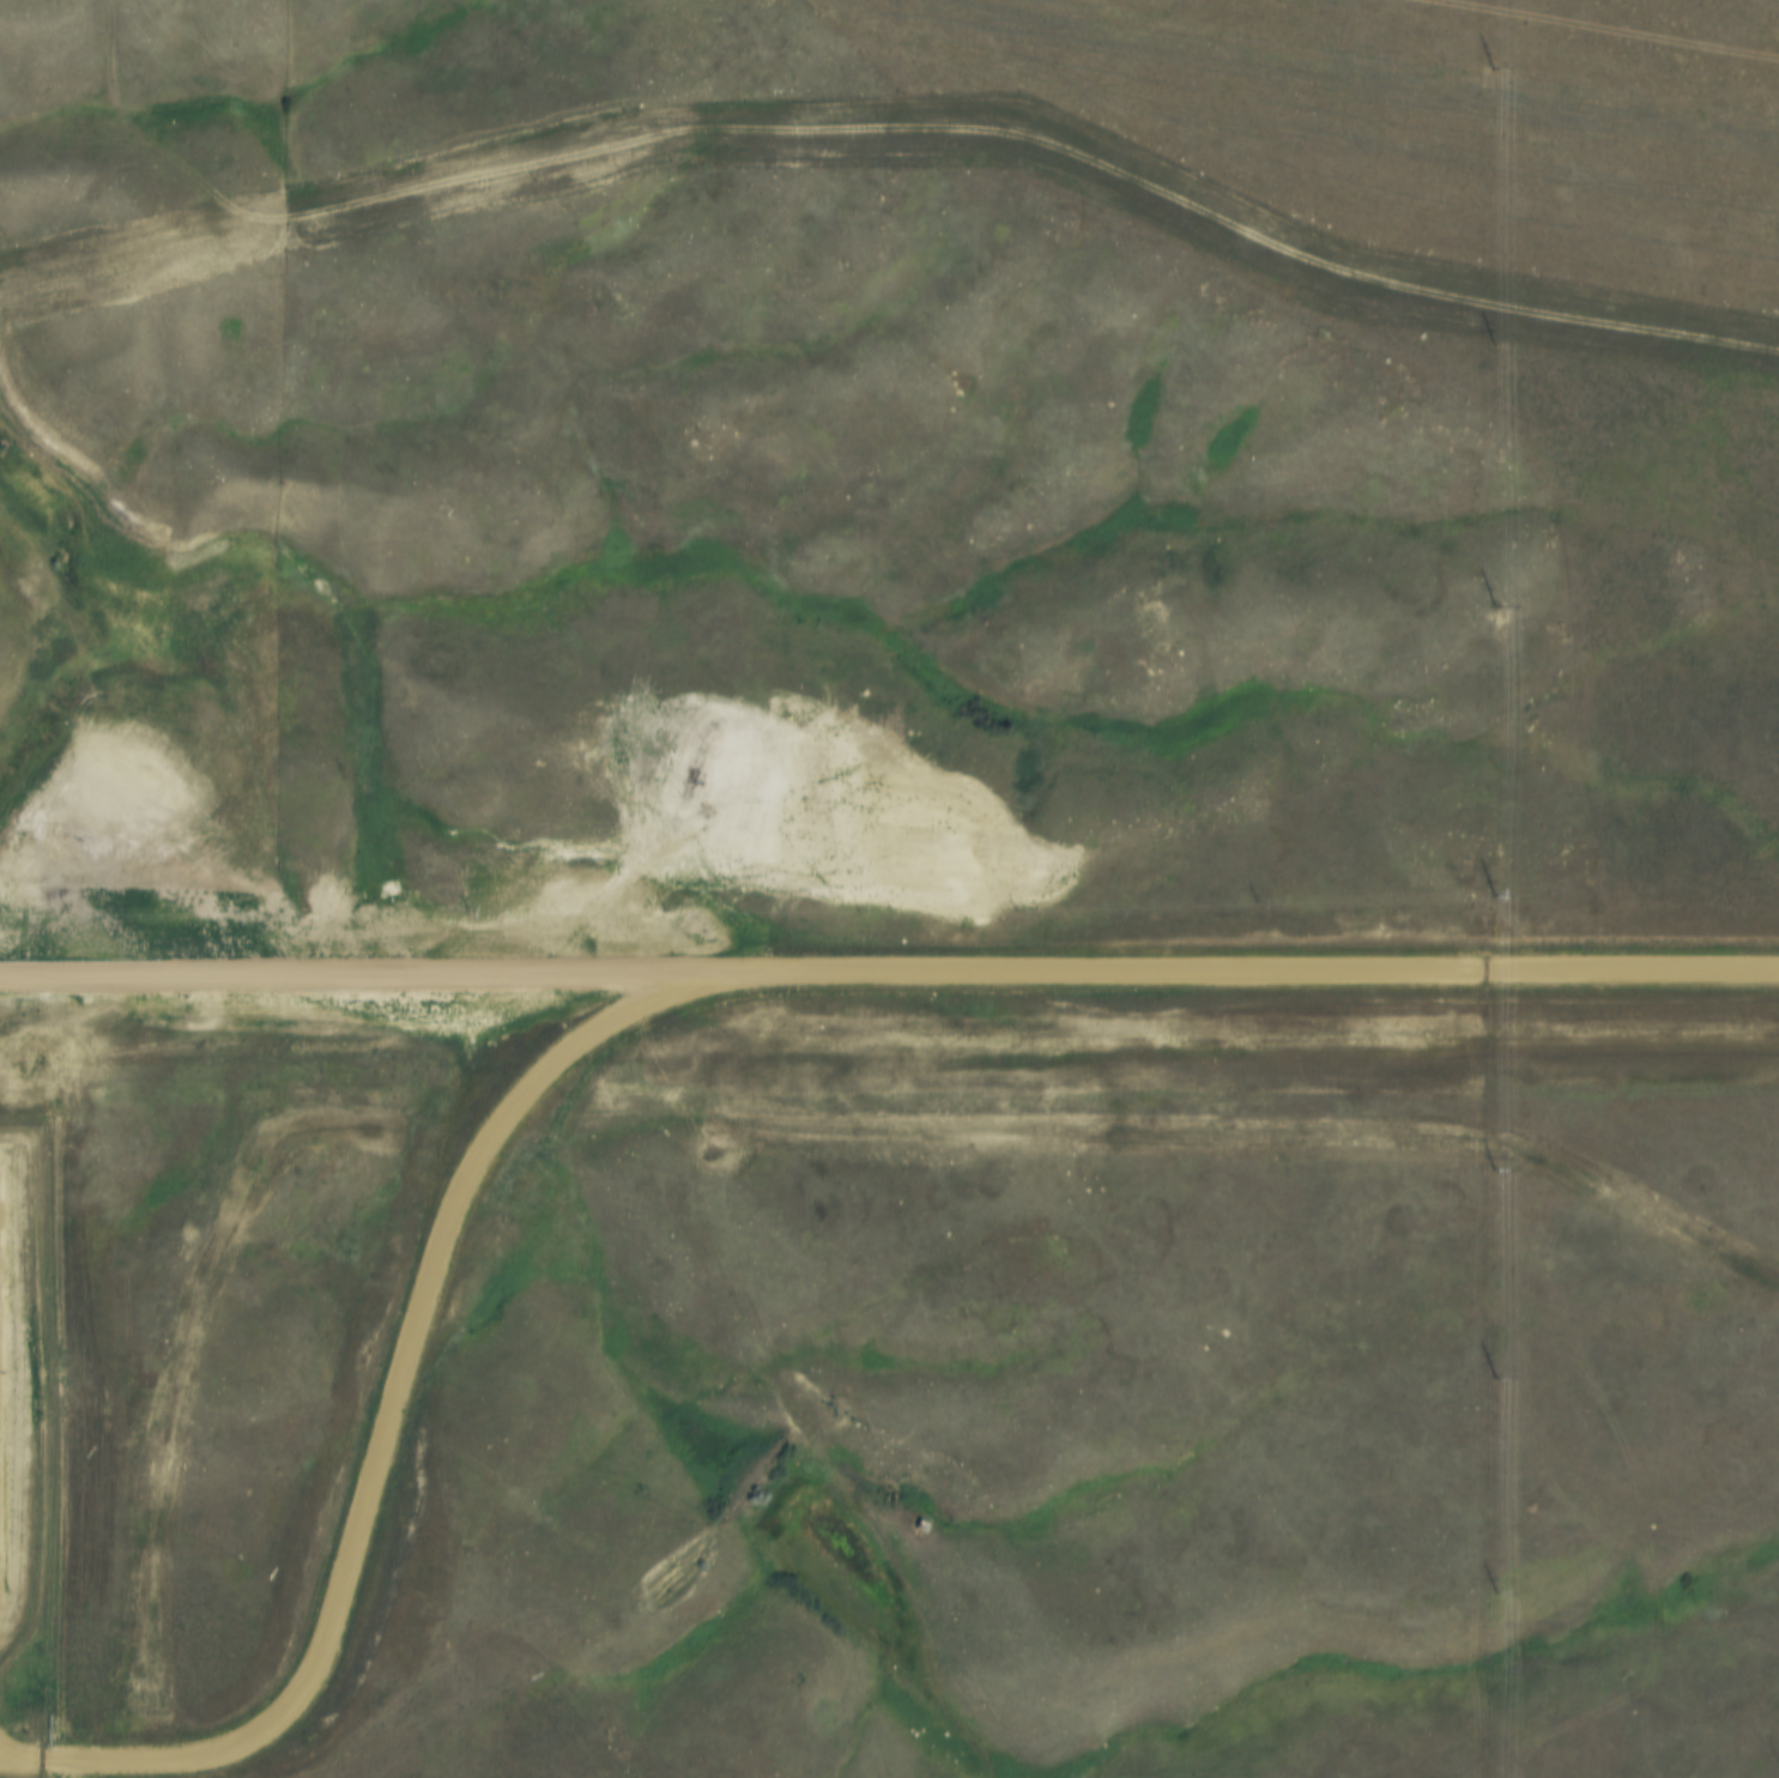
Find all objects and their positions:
road: (652, 1003)

